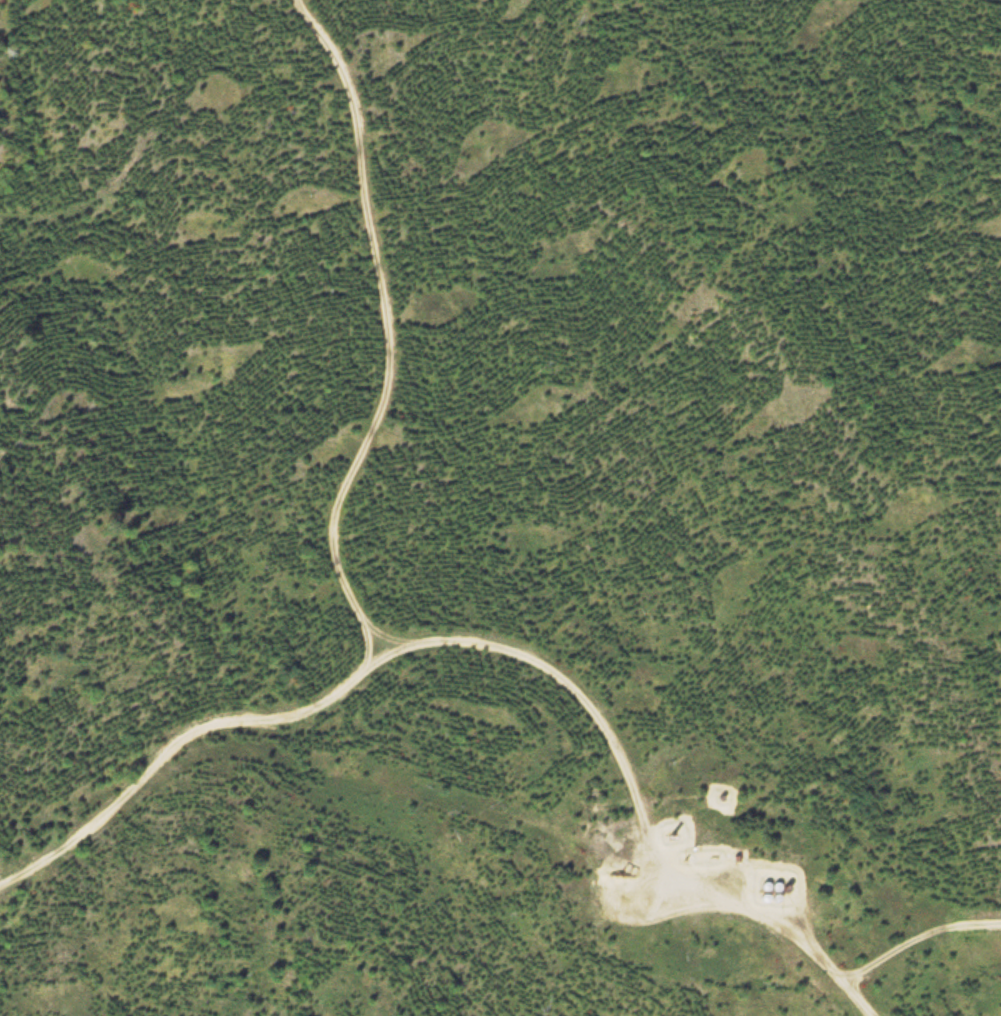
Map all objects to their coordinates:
road: (96, 190)
road: (38, 220)
road: (383, 329)
road: (486, 654)
petroleum well: (629, 874)
road: (919, 945)

